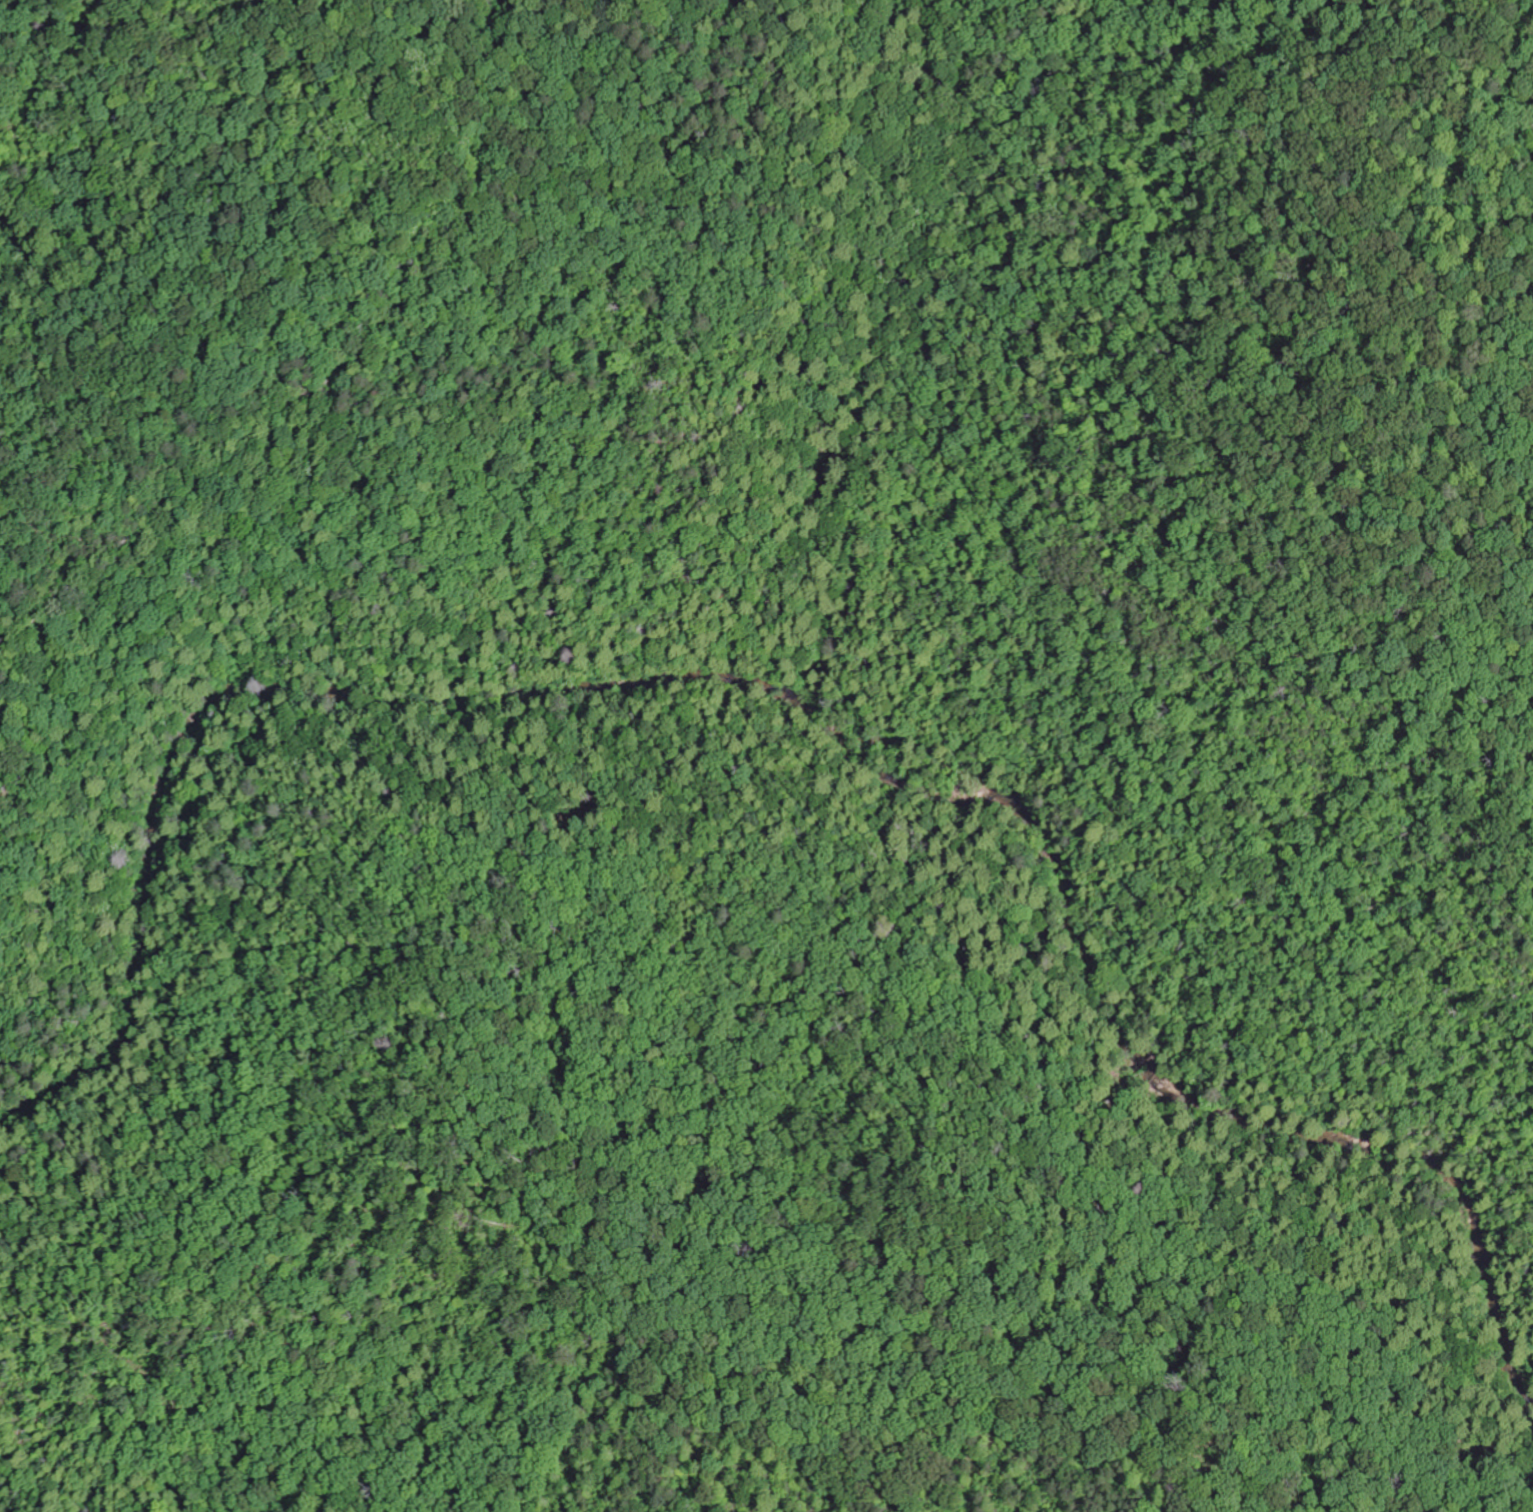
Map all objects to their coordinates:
road: (298, 250)

